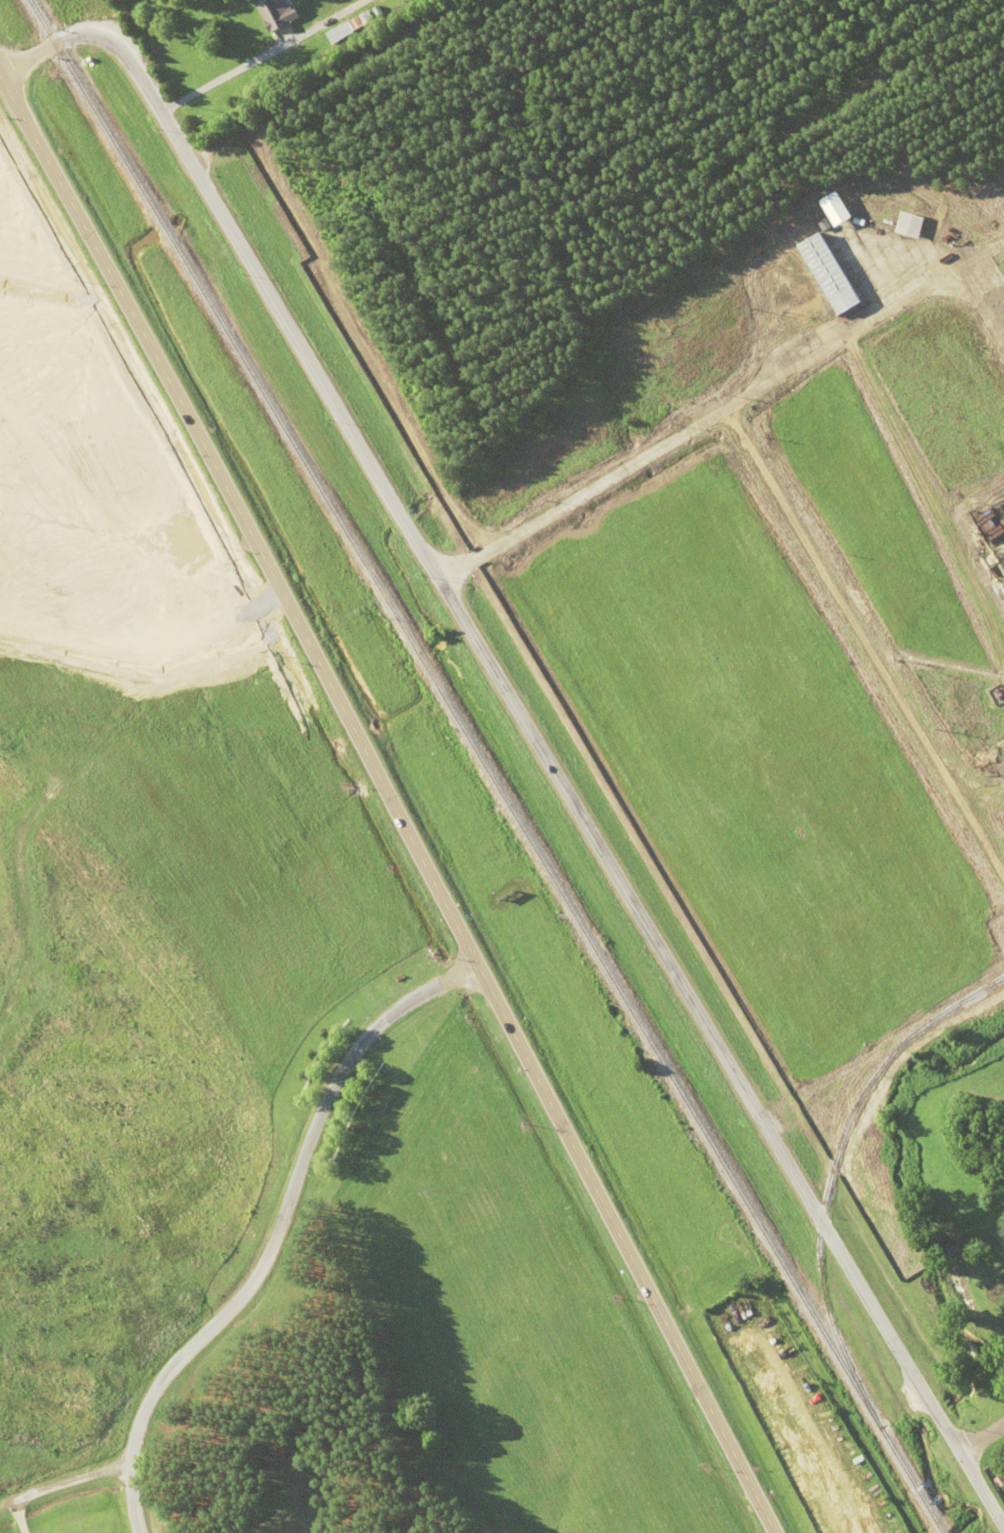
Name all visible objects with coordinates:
building: (275, 14)
road: (96, 15)
road: (92, 28)
building: (338, 33)
road: (258, 54)
building: (839, 210)
building: (912, 226)
building: (833, 275)
road: (297, 343)
road: (48, 410)
road: (719, 412)
road: (865, 642)
road: (145, 652)
railway: (484, 766)
road: (391, 804)
road: (599, 851)
railway: (982, 992)
railway: (830, 1171)
road: (275, 1233)
road: (881, 1328)
road: (980, 1437)
road: (56, 1487)

